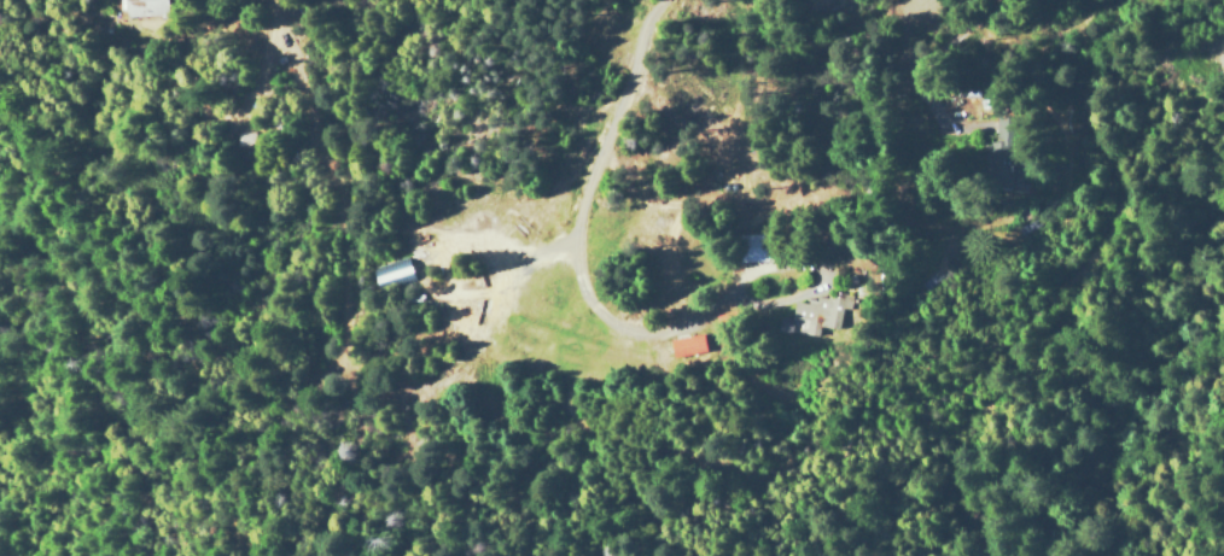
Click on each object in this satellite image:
building: (142, 7)
road: (1078, 96)
building: (996, 163)
road: (170, 222)
road: (503, 294)
building: (816, 314)
building: (683, 345)

